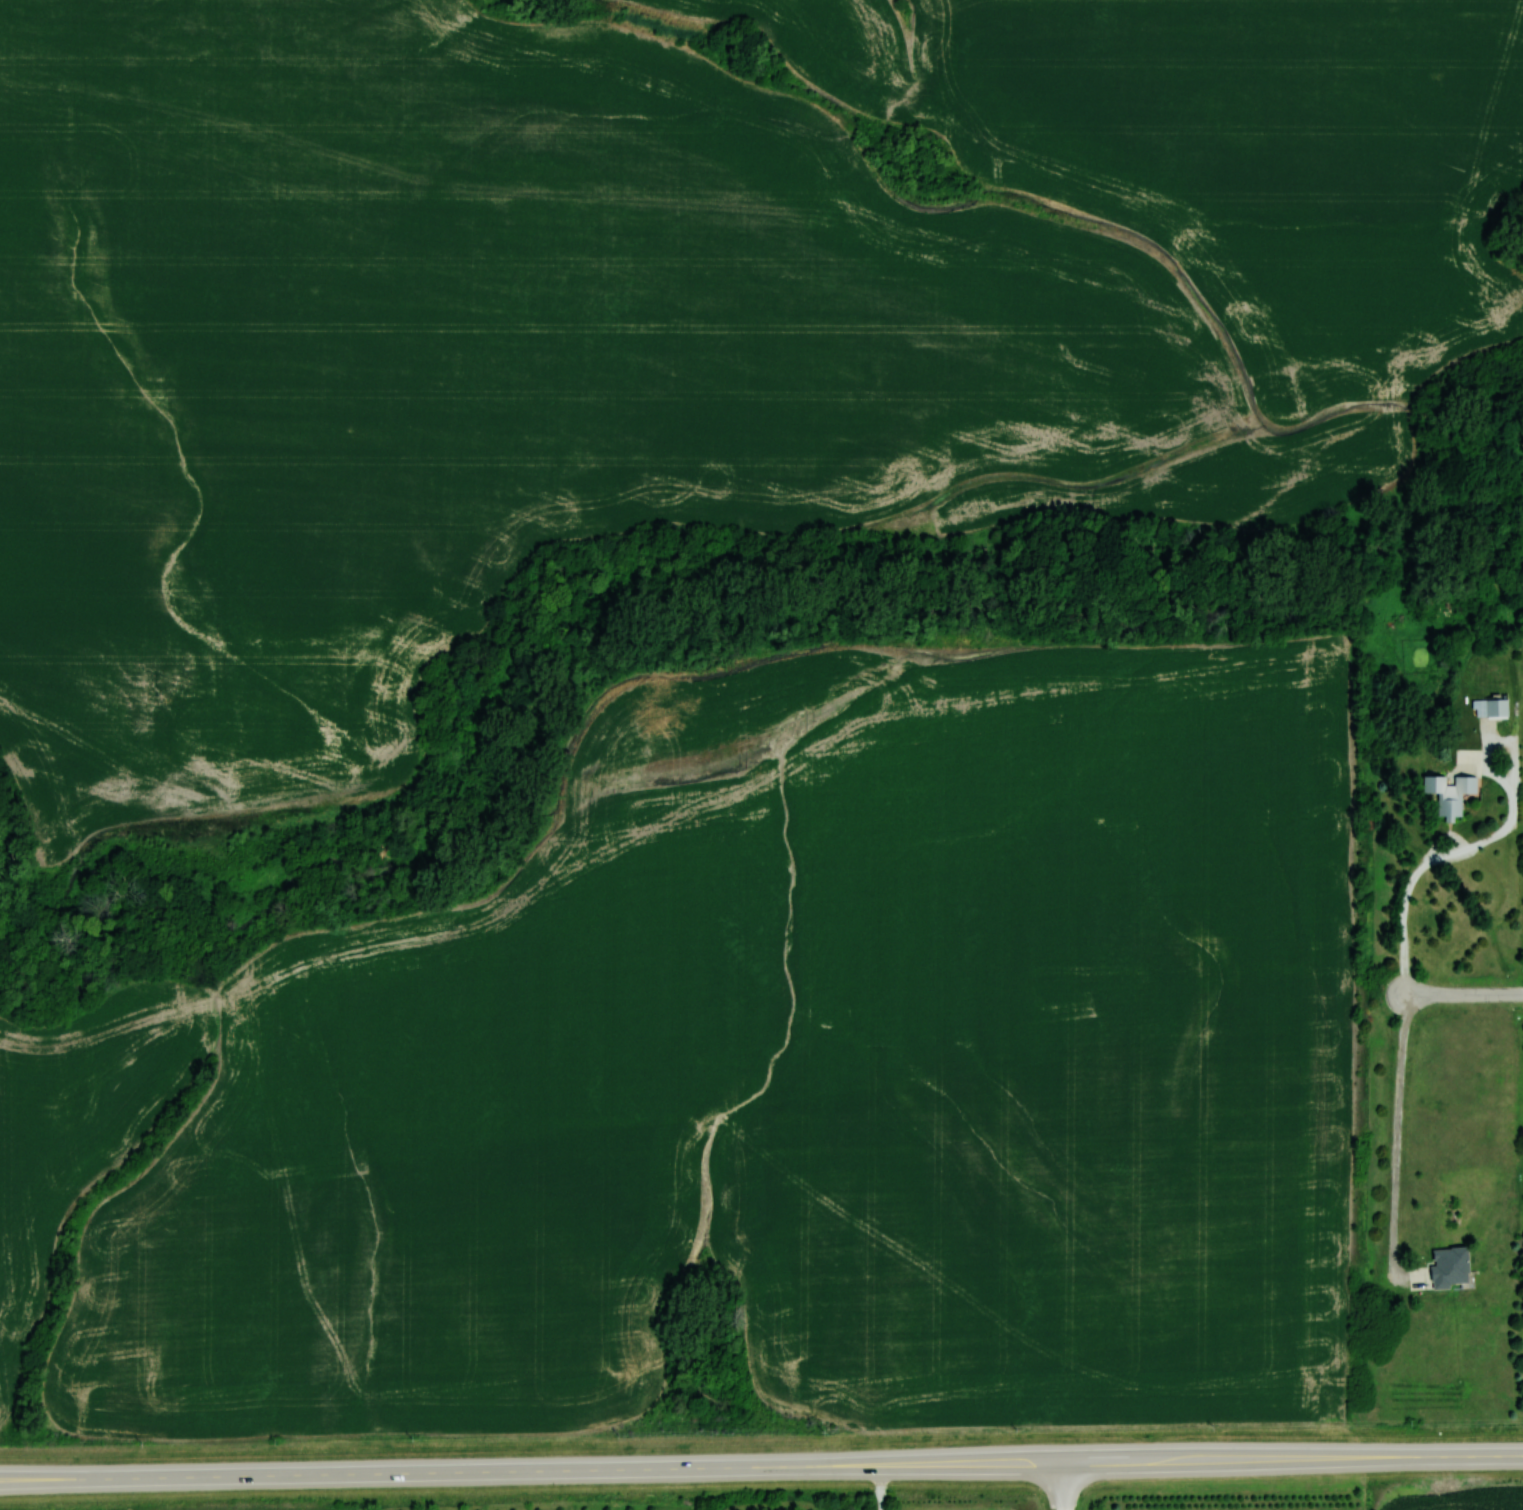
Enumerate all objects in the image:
building: (1489, 707)
building: (1448, 793)
road: (1442, 858)
road: (1465, 994)
road: (1397, 1138)
building: (1447, 1267)
road: (761, 1467)
road: (1062, 1486)

